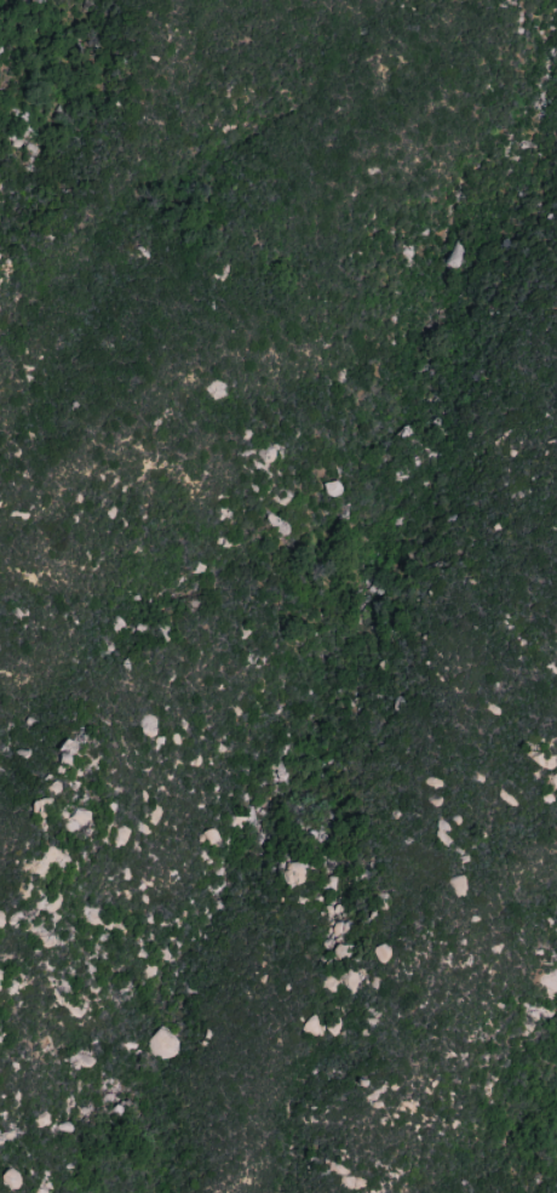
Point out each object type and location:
building: (209, 835)
building: (456, 885)
building: (162, 1044)

